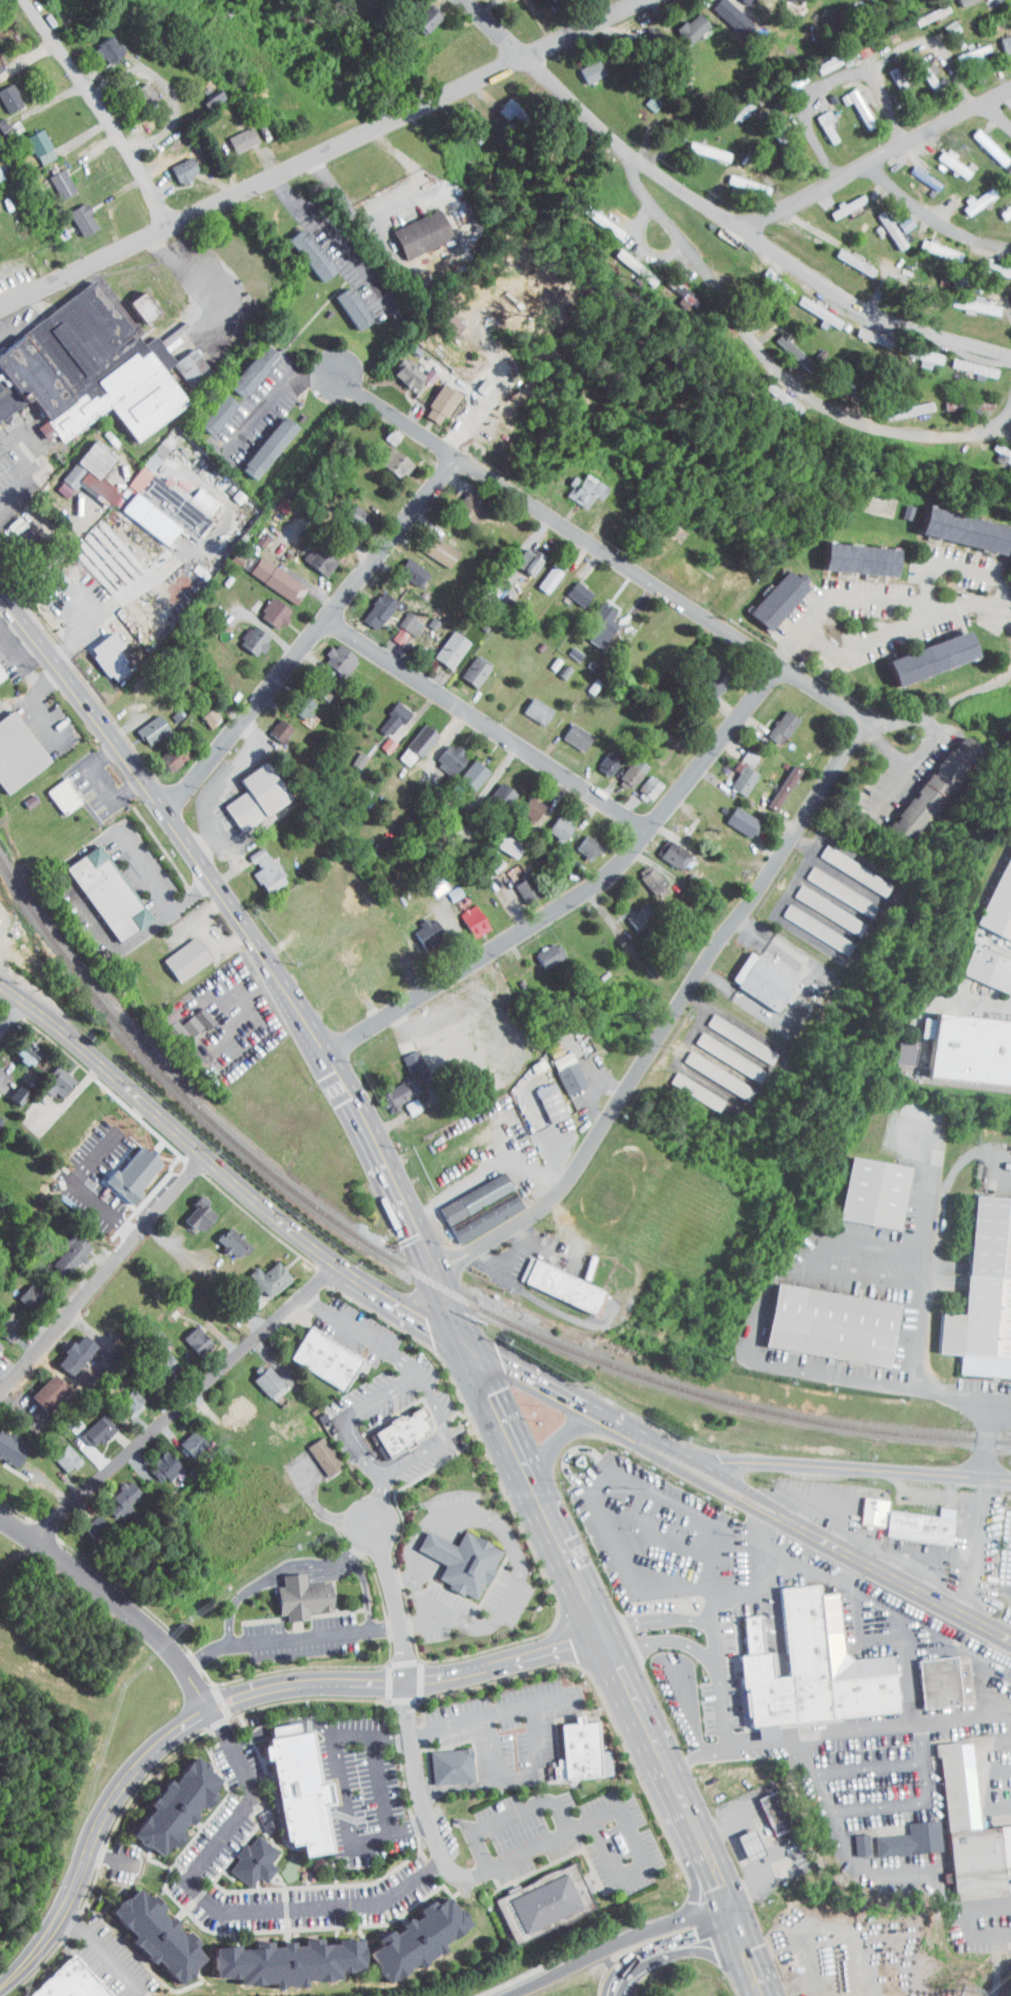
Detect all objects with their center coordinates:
building: (720, 8)
building: (922, 8)
building: (417, 12)
building: (683, 21)
building: (942, 21)
road: (924, 35)
building: (1001, 36)
building: (854, 43)
building: (94, 44)
building: (963, 48)
building: (828, 53)
building: (582, 64)
road: (820, 74)
building: (787, 75)
building: (892, 79)
building: (132, 87)
road: (166, 88)
building: (3, 92)
building: (201, 93)
building: (500, 102)
building: (851, 102)
road: (99, 111)
road: (992, 112)
building: (818, 119)
building: (231, 133)
building: (29, 140)
building: (981, 140)
road: (870, 149)
road: (322, 154)
building: (945, 157)
building: (174, 163)
building: (916, 170)
building: (51, 177)
building: (739, 178)
building: (971, 193)
building: (838, 199)
building: (1001, 203)
road: (399, 206)
building: (72, 213)
road: (717, 213)
road: (926, 213)
building: (593, 214)
building: (897, 217)
building: (882, 223)
building: (412, 227)
road: (338, 234)
building: (932, 244)
building: (301, 248)
building: (845, 255)
building: (625, 260)
building: (989, 262)
road: (183, 272)
building: (674, 286)
building: (966, 299)
building: (132, 300)
building: (343, 301)
building: (442, 317)
building: (779, 340)
building: (179, 358)
building: (967, 361)
building: (243, 363)
building: (400, 367)
building: (87, 368)
road: (787, 376)
building: (429, 397)
road: (271, 398)
building: (900, 404)
building: (206, 407)
building: (258, 440)
building: (385, 456)
building: (81, 468)
building: (574, 484)
road: (8, 491)
building: (156, 495)
building: (460, 500)
building: (347, 510)
building: (954, 523)
building: (429, 544)
road: (599, 552)
building: (849, 552)
building: (309, 553)
building: (519, 555)
building: (402, 566)
road: (962, 566)
building: (267, 573)
building: (539, 573)
road: (134, 586)
building: (569, 587)
building: (769, 592)
road: (879, 598)
building: (369, 604)
building: (264, 606)
road: (73, 613)
building: (592, 618)
building: (244, 634)
road: (316, 638)
road: (883, 638)
building: (441, 643)
building: (99, 651)
building: (922, 651)
building: (329, 654)
building: (466, 664)
building: (2, 673)
building: (702, 680)
building: (292, 700)
building: (527, 705)
road: (944, 705)
building: (200, 712)
building: (383, 713)
building: (772, 720)
building: (142, 723)
building: (270, 724)
road: (489, 727)
building: (567, 731)
building: (408, 738)
building: (377, 739)
building: (163, 751)
building: (739, 751)
building: (18, 753)
building: (348, 753)
building: (440, 753)
building: (597, 759)
road: (912, 766)
building: (622, 767)
building: (463, 768)
building: (732, 772)
building: (774, 781)
building: (927, 781)
building: (638, 782)
road: (893, 785)
building: (492, 789)
building: (53, 790)
building: (246, 790)
building: (67, 794)
building: (521, 803)
building: (733, 815)
building: (550, 822)
building: (498, 838)
building: (578, 841)
building: (665, 849)
building: (844, 864)
building: (256, 865)
building: (640, 870)
building: (428, 880)
building: (516, 884)
building: (831, 885)
road: (71, 889)
building: (109, 892)
road: (585, 895)
road: (226, 896)
building: (819, 904)
building: (999, 904)
building: (631, 913)
building: (464, 915)
building: (808, 923)
building: (418, 927)
building: (540, 949)
building: (175, 953)
building: (189, 958)
building: (988, 967)
building: (753, 974)
road: (687, 995)
building: (175, 1018)
road: (15, 1026)
building: (731, 1032)
building: (892, 1046)
building: (16, 1047)
building: (971, 1048)
building: (720, 1051)
building: (403, 1055)
building: (557, 1066)
building: (708, 1069)
building: (47, 1077)
building: (687, 1085)
building: (7, 1089)
building: (389, 1089)
building: (540, 1096)
building: (402, 1100)
railway: (191, 1101)
road: (994, 1153)
building: (122, 1169)
road: (226, 1171)
road: (86, 1190)
building: (874, 1191)
building: (464, 1192)
road: (924, 1194)
building: (483, 1206)
building: (189, 1209)
building: (222, 1237)
building: (59, 1248)
road: (436, 1251)
road: (457, 1251)
road: (420, 1258)
road: (462, 1261)
road: (103, 1268)
building: (258, 1273)
building: (566, 1286)
building: (988, 1289)
building: (19, 1291)
road: (453, 1313)
road: (913, 1317)
building: (833, 1324)
road: (361, 1333)
building: (186, 1335)
traffic signals: (464, 1340)
building: (65, 1348)
building: (152, 1356)
building: (328, 1358)
road: (769, 1364)
road: (414, 1375)
building: (259, 1377)
road: (538, 1378)
building: (37, 1386)
building: (121, 1397)
railway: (717, 1398)
road: (184, 1403)
building: (229, 1405)
road: (498, 1413)
building: (64, 1417)
building: (88, 1425)
building: (403, 1431)
road: (989, 1431)
road: (560, 1436)
building: (181, 1438)
road: (657, 1438)
building: (314, 1450)
building: (56, 1452)
building: (156, 1461)
road: (856, 1466)
building: (114, 1492)
road: (601, 1499)
road: (377, 1500)
building: (864, 1504)
road: (543, 1508)
building: (876, 1511)
building: (87, 1520)
building: (923, 1527)
road: (976, 1543)
building: (437, 1546)
road: (855, 1548)
road: (717, 1559)
building: (472, 1564)
road: (518, 1564)
road: (284, 1569)
road: (578, 1582)
building: (291, 1590)
road: (367, 1591)
road: (717, 1595)
road: (394, 1598)
road: (114, 1603)
road: (657, 1619)
road: (291, 1637)
road: (664, 1639)
building: (813, 1666)
building: (941, 1681)
road: (630, 1691)
road: (229, 1699)
road: (490, 1713)
road: (871, 1726)
building: (286, 1729)
road: (281, 1730)
road: (372, 1735)
road: (494, 1747)
building: (581, 1750)
road: (699, 1755)
road: (541, 1760)
building: (452, 1764)
road: (870, 1767)
road: (417, 1774)
road: (385, 1782)
road: (343, 1784)
road: (460, 1786)
building: (301, 1791)
road: (679, 1796)
building: (165, 1799)
building: (764, 1805)
road: (879, 1806)
road: (512, 1815)
building: (963, 1822)
road: (392, 1829)
road: (630, 1835)
building: (739, 1838)
building: (852, 1838)
road: (544, 1842)
building: (241, 1853)
road: (922, 1872)
road: (720, 1880)
road: (703, 1884)
building: (547, 1902)
road: (216, 1905)
road: (710, 1915)
traffic signals: (736, 1916)
building: (147, 1928)
building: (408, 1932)
road: (666, 1946)
road: (102, 1947)
road: (594, 1954)
building: (277, 1955)
road: (751, 1955)
building: (72, 1981)
power tower: (969, 1990)

